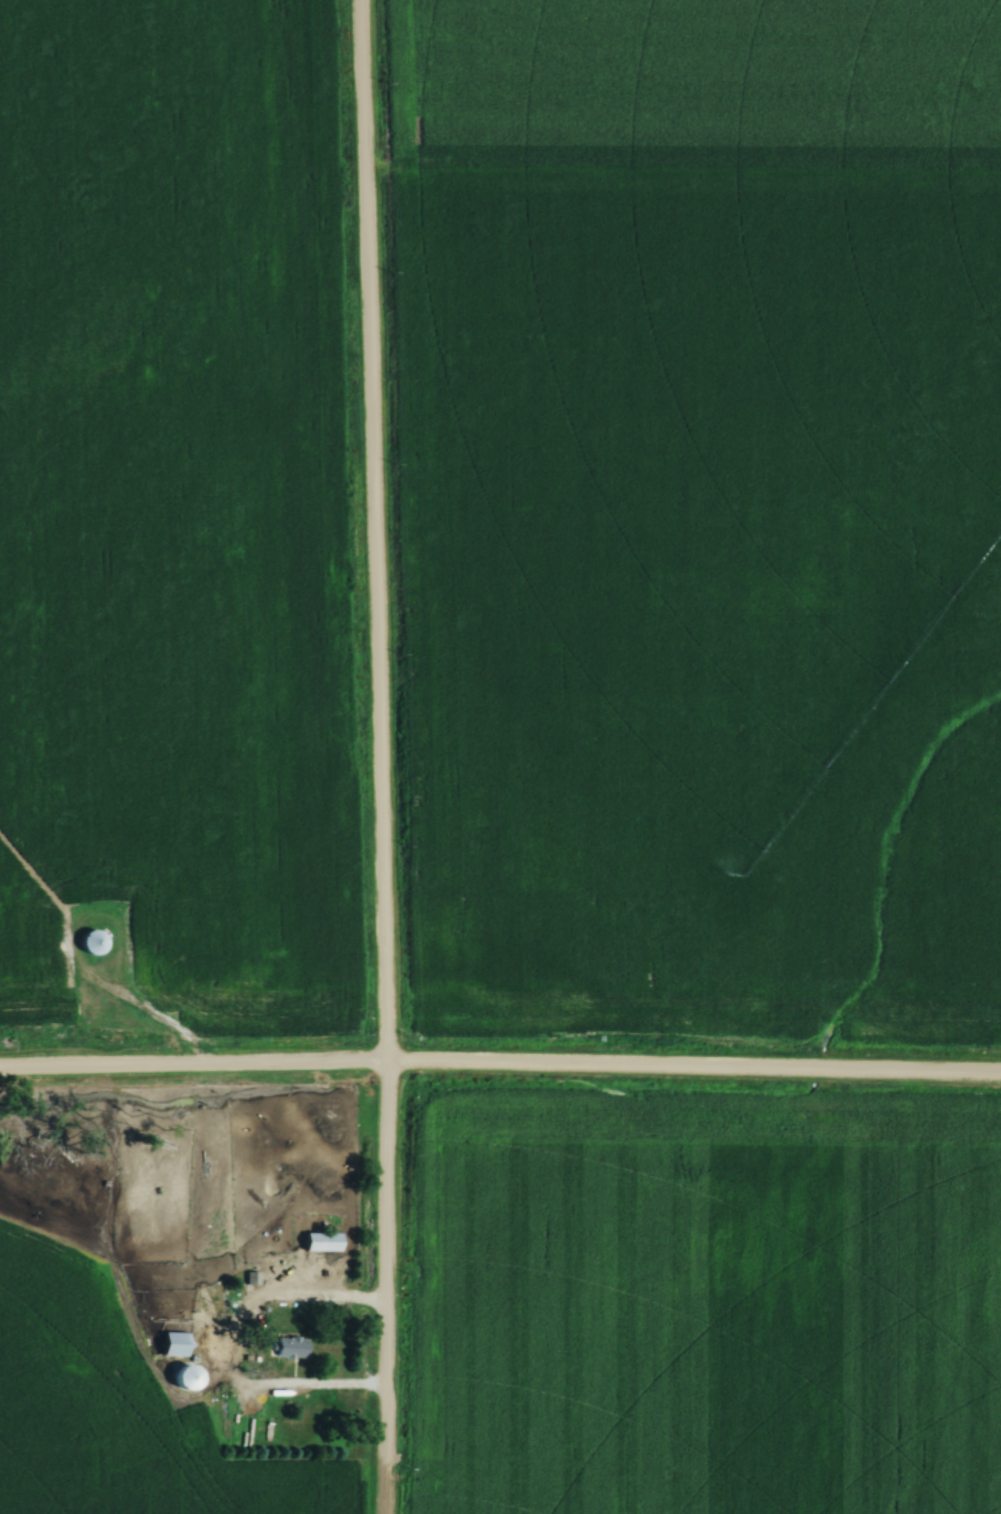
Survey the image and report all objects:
road: (377, 756)
building: (94, 942)
road: (500, 1069)
building: (321, 1243)
building: (174, 1344)
building: (290, 1347)
road: (211, 1355)
building: (186, 1379)

